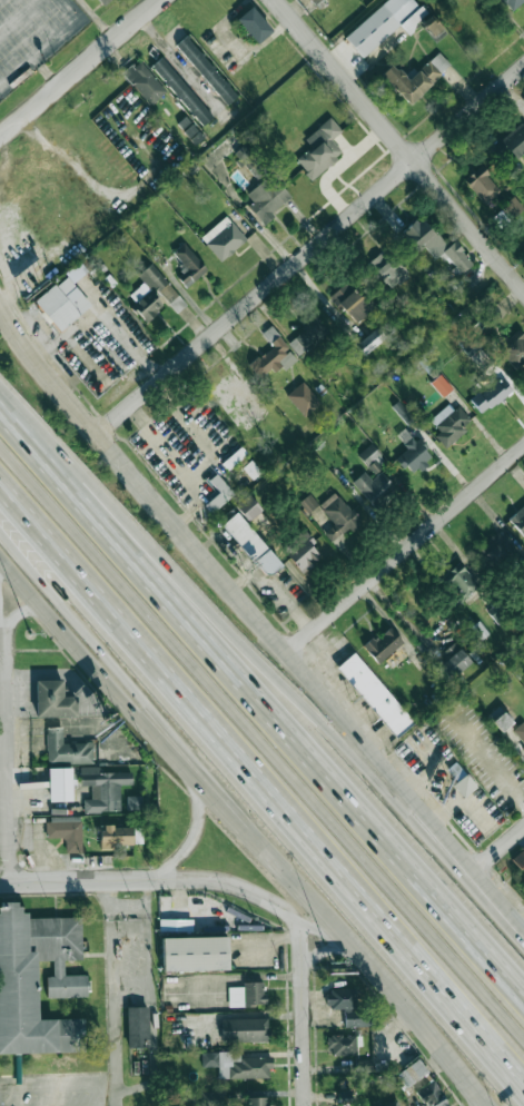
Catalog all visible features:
building: (102, 1)
building: (315, 1)
building: (512, 3)
building: (384, 23)
building: (254, 24)
building: (433, 28)
road: (38, 33)
road: (178, 62)
road: (79, 68)
building: (206, 70)
building: (415, 77)
building: (144, 81)
building: (181, 91)
building: (189, 129)
road: (399, 145)
building: (320, 149)
building: (249, 161)
building: (482, 185)
building: (266, 198)
building: (513, 206)
building: (424, 237)
building: (224, 238)
road: (310, 250)
building: (457, 257)
building: (523, 257)
building: (188, 265)
building: (386, 268)
building: (154, 294)
building: (63, 299)
building: (350, 302)
road: (102, 314)
building: (487, 316)
building: (307, 336)
building: (370, 340)
building: (469, 345)
building: (273, 356)
building: (491, 395)
building: (303, 399)
building: (403, 412)
building: (449, 423)
road: (100, 437)
building: (412, 452)
building: (368, 454)
road: (179, 463)
building: (373, 486)
building: (218, 493)
building: (308, 503)
building: (247, 507)
building: (337, 516)
building: (247, 544)
building: (494, 550)
building: (305, 551)
road: (405, 551)
road: (29, 575)
building: (461, 581)
road: (26, 611)
building: (497, 613)
building: (383, 644)
road: (263, 655)
building: (454, 663)
building: (375, 694)
building: (53, 700)
road: (261, 714)
building: (500, 719)
road: (366, 742)
road: (261, 745)
building: (66, 748)
road: (7, 756)
road: (486, 760)
building: (60, 784)
building: (464, 786)
building: (102, 789)
road: (259, 792)
building: (134, 802)
road: (247, 827)
building: (66, 833)
road: (195, 836)
building: (116, 837)
road: (501, 849)
building: (523, 855)
road: (73, 880)
road: (258, 896)
road: (128, 907)
building: (176, 925)
road: (323, 952)
building: (194, 954)
building: (67, 986)
building: (247, 995)
building: (347, 1007)
road: (301, 1011)
building: (137, 1027)
building: (245, 1029)
building: (342, 1045)
building: (237, 1065)
building: (413, 1072)
road: (58, 1085)
road: (131, 1089)
parking lot: (55, 1092)
building: (433, 1094)
road: (109, 1095)
building: (347, 1096)
building: (211, 1098)
building: (256, 1102)
building: (390, 1104)

